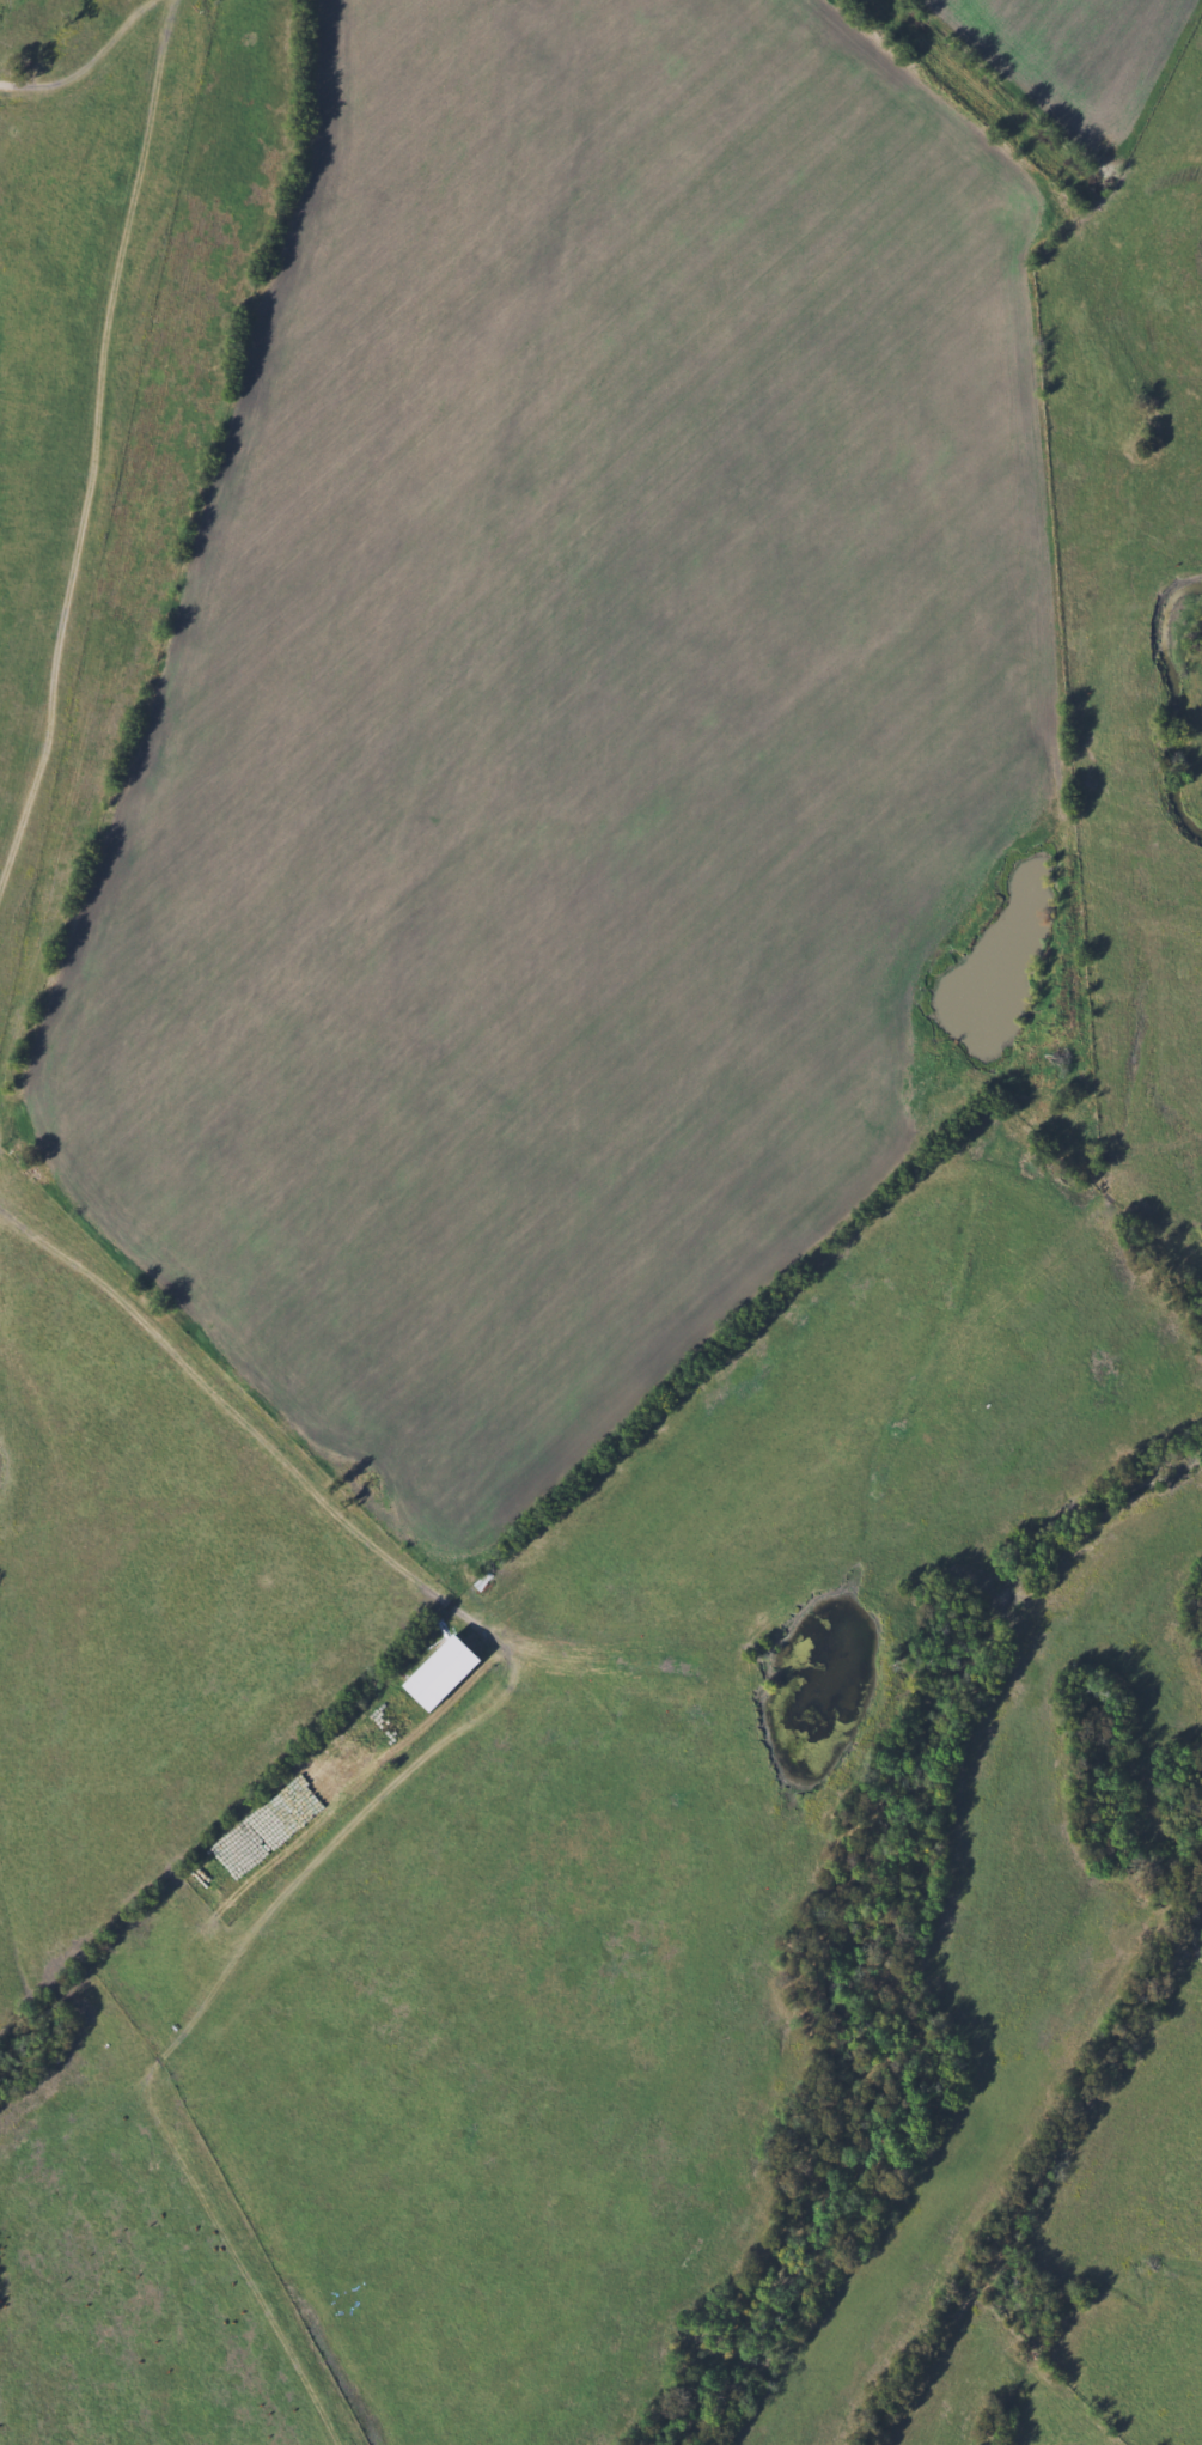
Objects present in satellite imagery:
building: (449, 1677)

